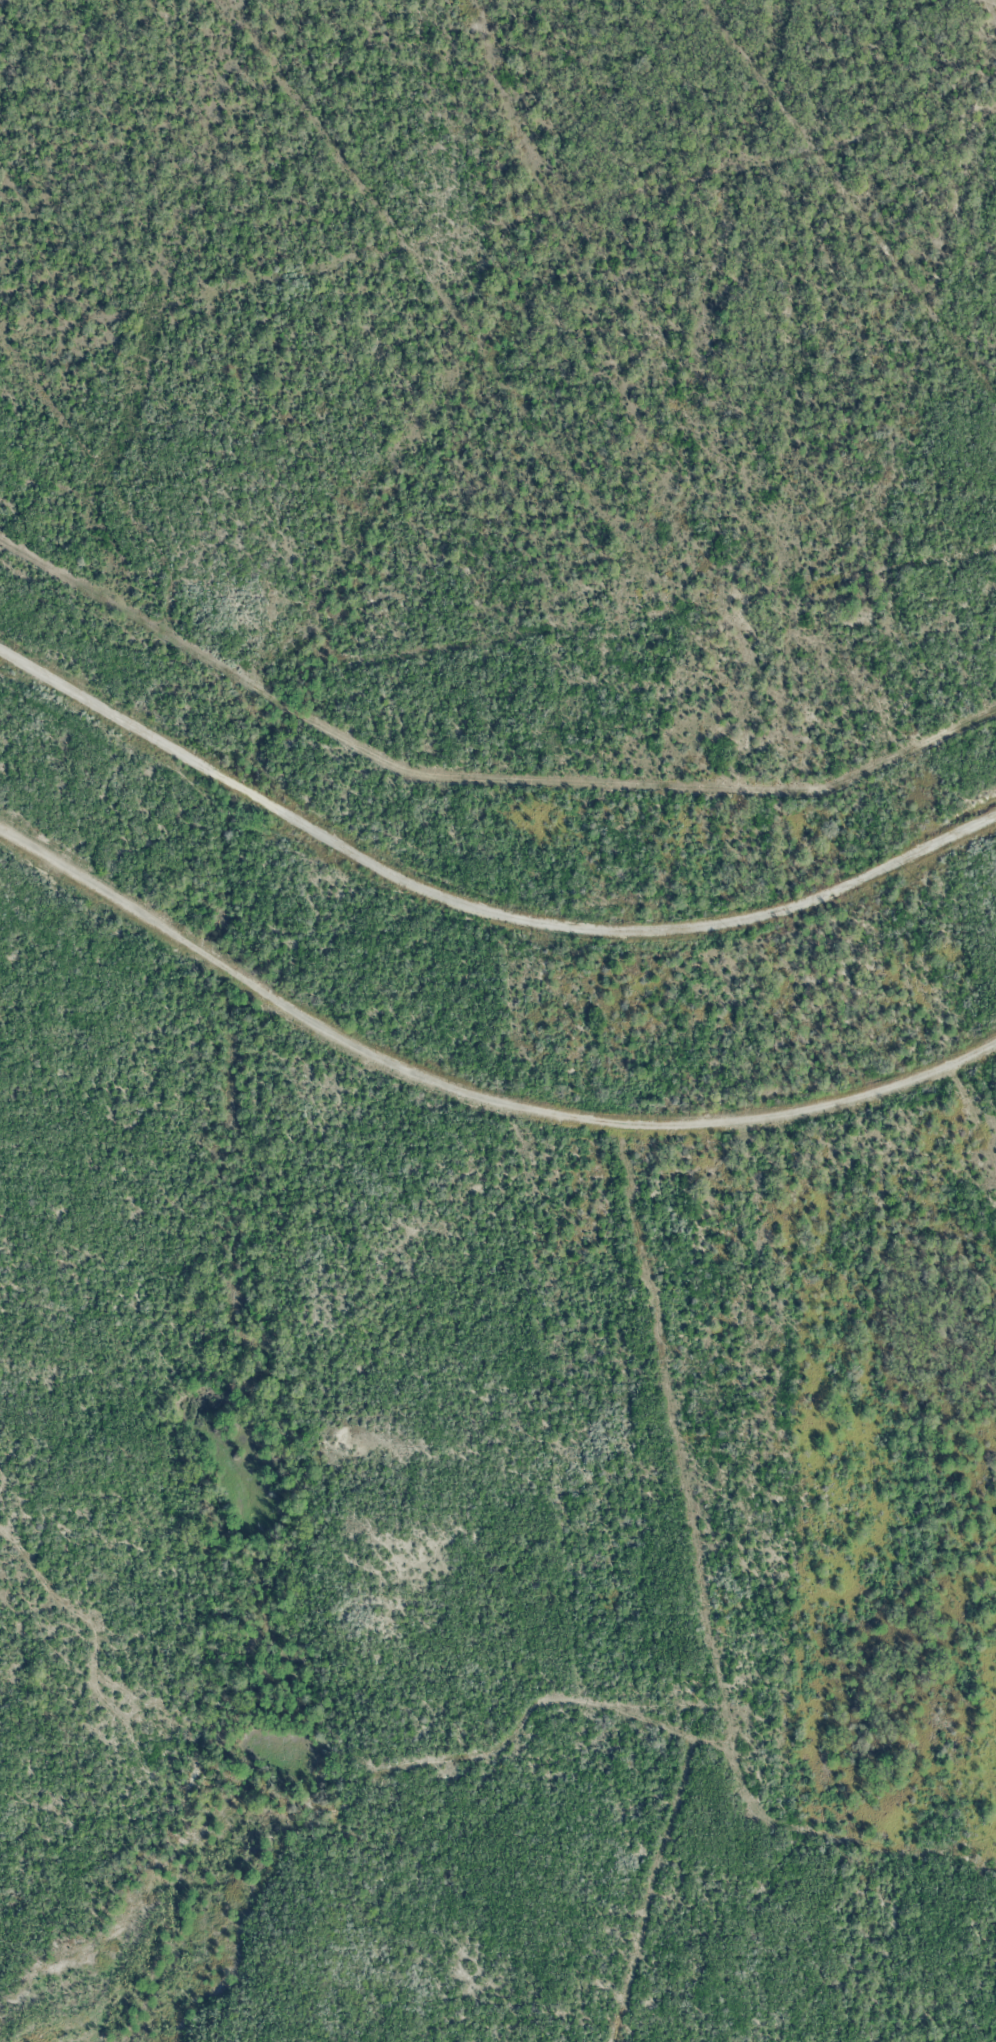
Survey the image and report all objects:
road: (474, 896)
road: (471, 1094)

